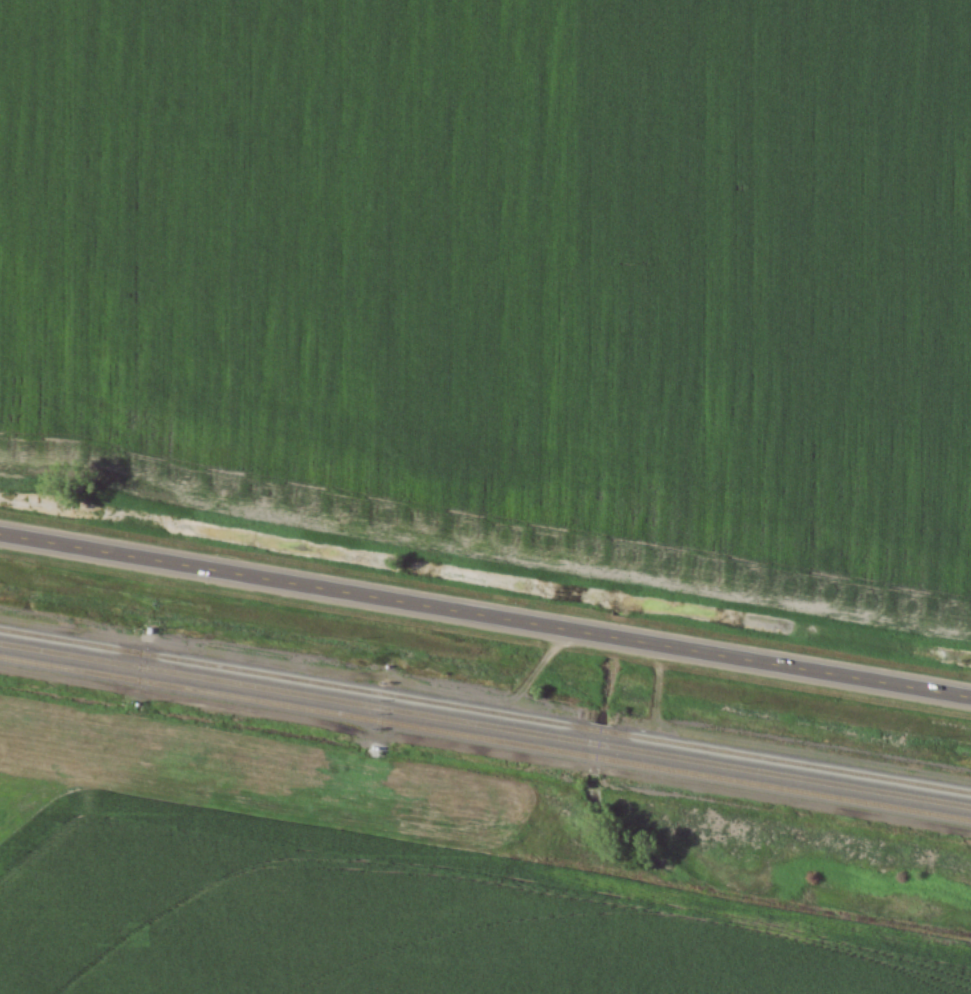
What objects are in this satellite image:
road: (485, 615)
railway: (485, 711)
railway: (485, 725)
railway: (485, 739)

